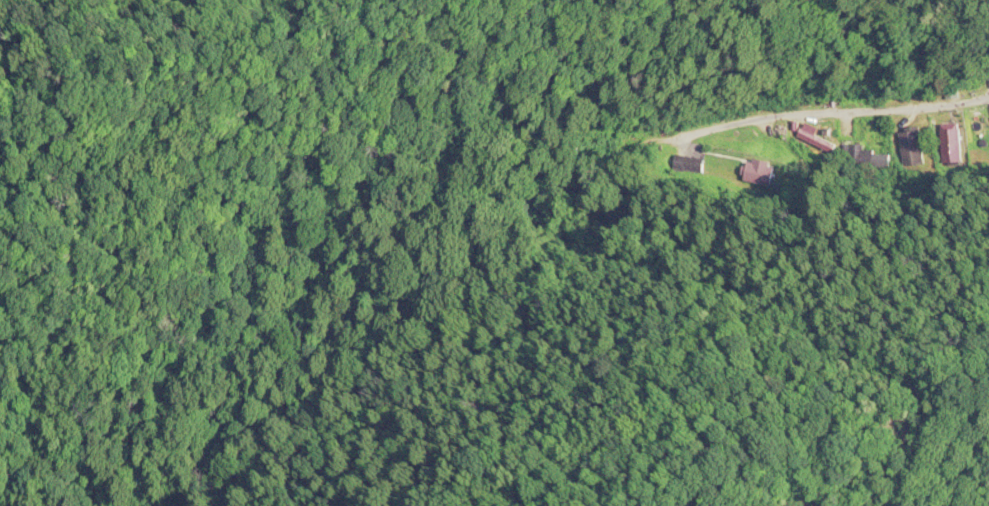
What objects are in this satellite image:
road: (805, 118)
building: (817, 139)
building: (913, 141)
building: (760, 170)

